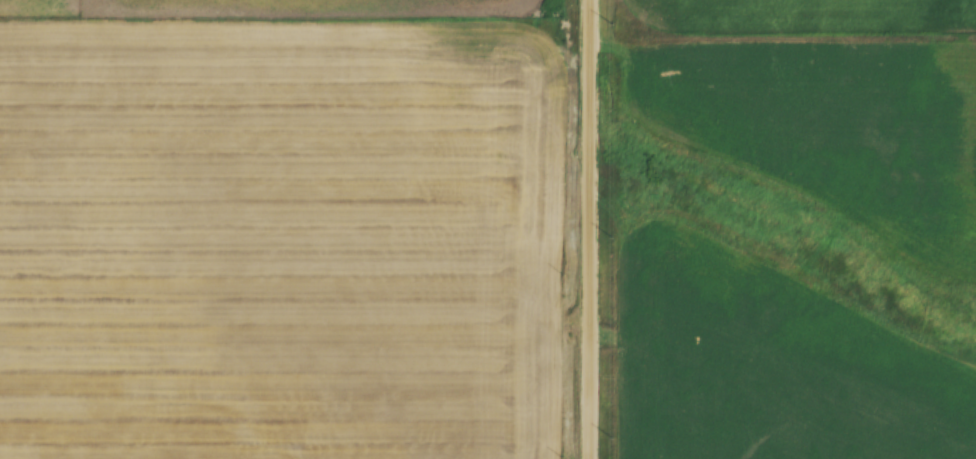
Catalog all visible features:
road: (591, 229)

